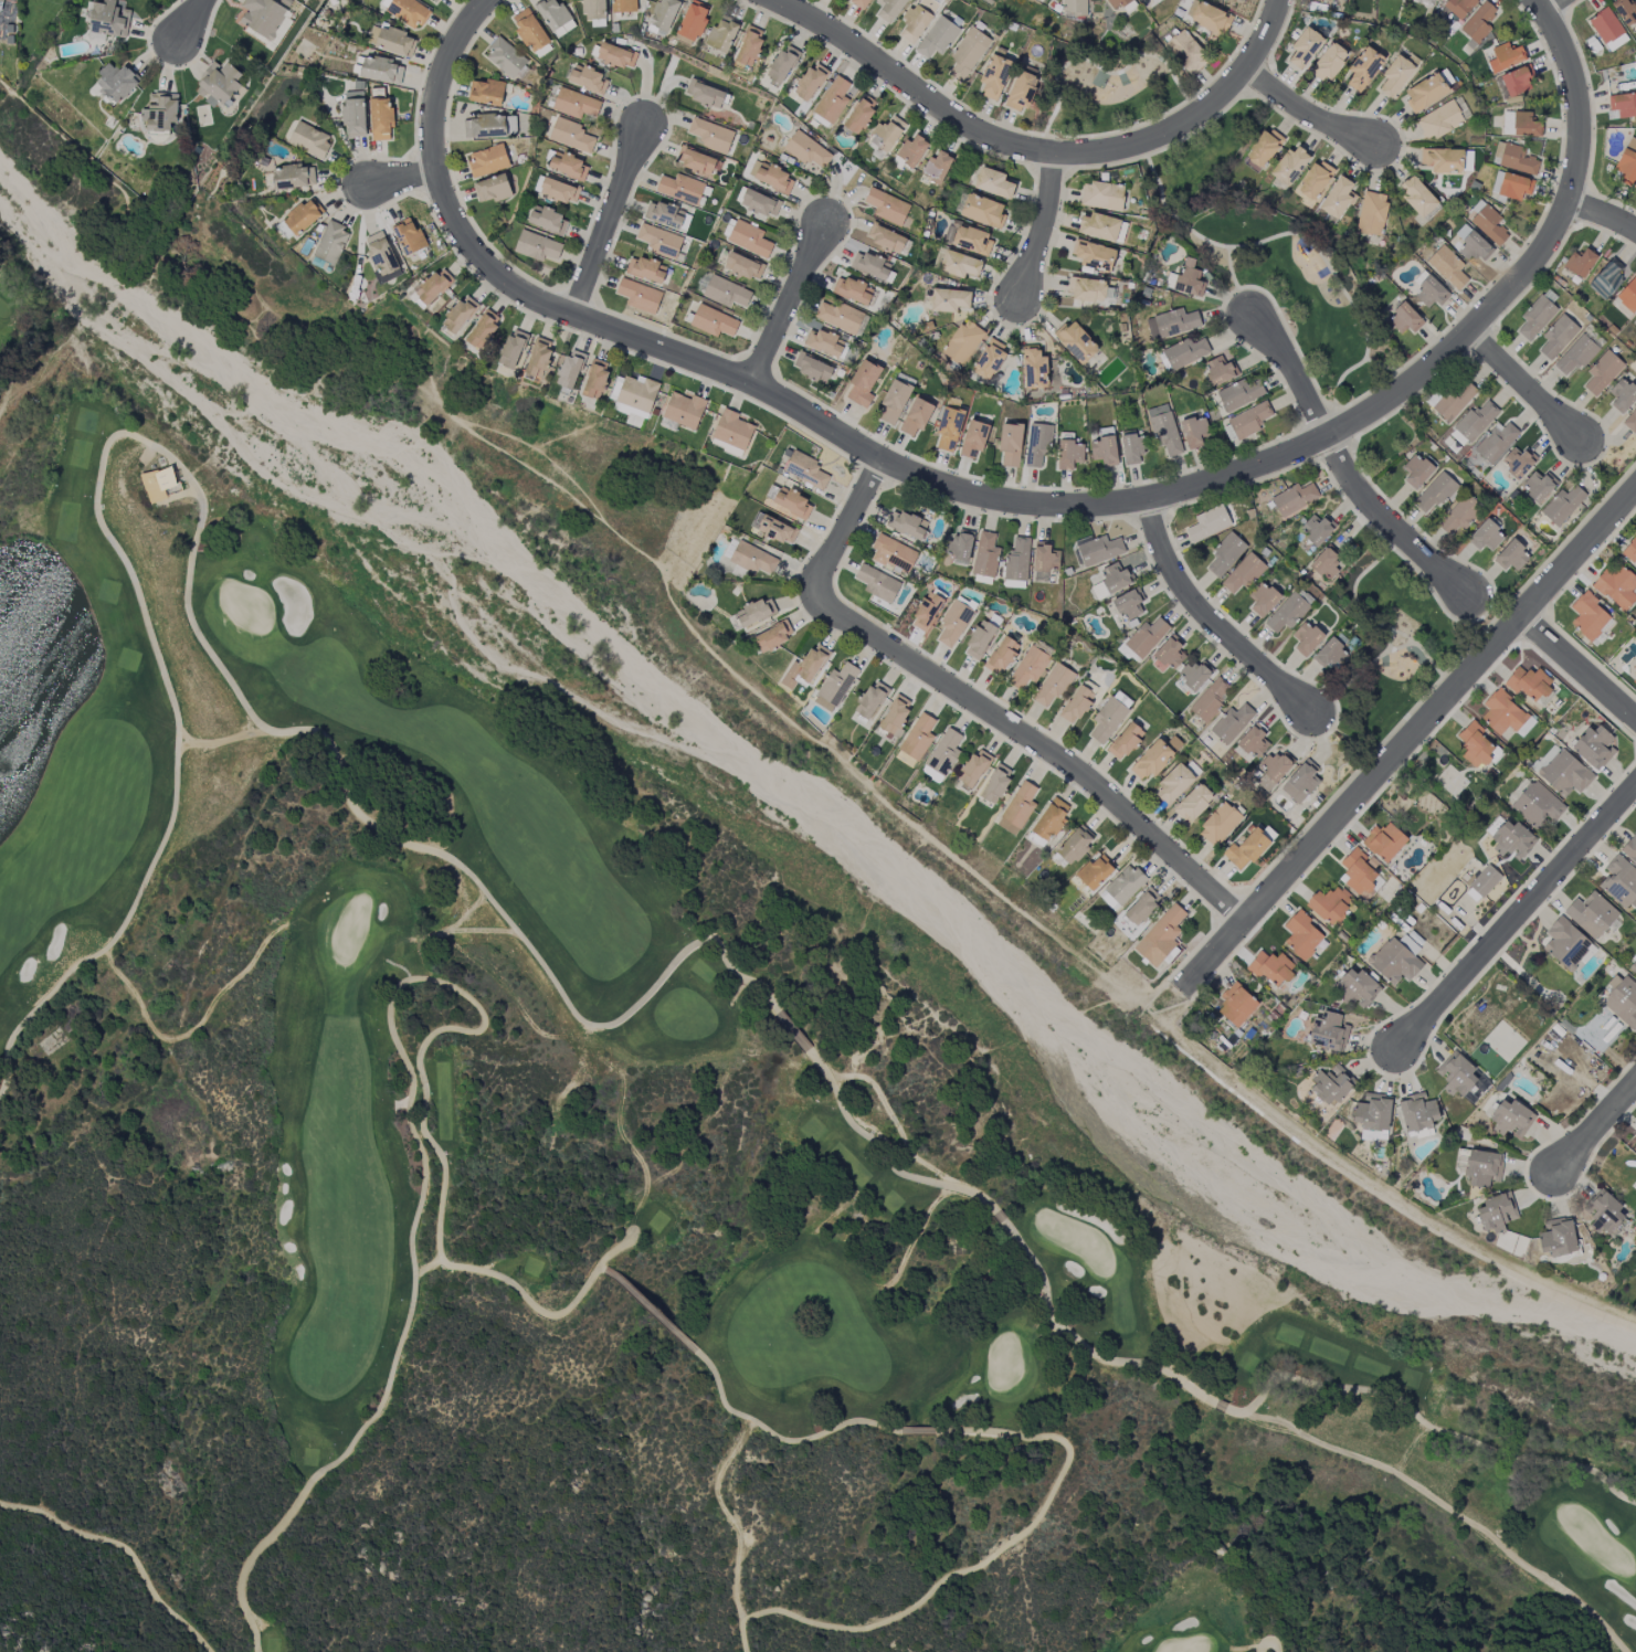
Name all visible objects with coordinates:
building: (1140, 0)
building: (1236, 0)
building: (432, 1)
road: (1519, 1)
road: (1577, 2)
building: (2, 3)
building: (859, 3)
building: (1118, 3)
road: (1563, 3)
road: (1539, 4)
road: (1549, 4)
building: (623, 6)
road: (1568, 6)
building: (1459, 7)
building: (1074, 8)
building: (594, 9)
building: (889, 9)
building: (407, 10)
building: (1625, 11)
building: (262, 17)
building: (555, 17)
building: (1207, 17)
building: (917, 19)
road: (194, 20)
building: (108, 21)
building: (693, 21)
building: (1478, 22)
road: (1284, 29)
building: (1607, 29)
building: (529, 30)
road: (1552, 32)
building: (721, 35)
building: (937, 38)
building: (391, 40)
building: (1305, 47)
building: (748, 49)
building: (1186, 51)
building: (968, 53)
building: (615, 55)
building: (505, 57)
building: (1506, 57)
building: (1328, 62)
building: (782, 65)
road: (426, 67)
building: (1363, 68)
building: (380, 70)
road: (1104, 71)
road: (1269, 74)
building: (994, 76)
building: (1395, 76)
road: (1259, 78)
building: (588, 80)
building: (1518, 81)
building: (116, 82)
building: (810, 82)
road: (882, 83)
building: (218, 84)
park: (1109, 88)
road: (1257, 89)
building: (486, 92)
building: (1021, 92)
building: (1425, 92)
building: (705, 94)
road: (653, 99)
building: (832, 99)
road: (1591, 100)
building: (574, 104)
building: (1623, 105)
building: (160, 112)
road: (1305, 112)
building: (353, 114)
building: (859, 114)
building: (380, 118)
building: (1439, 120)
building: (1520, 125)
building: (490, 126)
building: (886, 134)
building: (570, 135)
building: (710, 135)
road: (1047, 136)
building: (309, 140)
road: (1162, 148)
road: (1039, 149)
building: (806, 150)
building: (911, 150)
road: (1042, 150)
road: (1072, 150)
building: (1263, 150)
road: (416, 151)
road: (448, 156)
road: (1398, 157)
building: (1517, 159)
building: (487, 160)
building: (1447, 160)
building: (695, 161)
building: (1627, 162)
road: (1077, 165)
building: (568, 166)
building: (937, 167)
building: (1288, 167)
road: (1053, 170)
road: (1042, 174)
road: (411, 176)
building: (770, 176)
building: (293, 177)
road: (403, 179)
building: (1316, 180)
road: (1571, 180)
building: (1496, 182)
building: (993, 183)
building: (1514, 187)
building: (492, 189)
building: (680, 189)
building: (559, 190)
road: (339, 191)
building: (1101, 195)
building: (1416, 195)
road: (1592, 195)
road: (837, 197)
building: (1338, 198)
road: (430, 202)
building: (760, 203)
road: (1617, 204)
building: (887, 206)
road: (1584, 208)
building: (982, 211)
building: (1371, 213)
road: (1603, 214)
building: (667, 215)
building: (303, 216)
building: (547, 220)
road: (1556, 220)
road: (1584, 221)
road: (608, 223)
road: (1042, 224)
building: (1489, 225)
building: (1098, 226)
road: (1290, 233)
road: (1612, 235)
building: (408, 236)
road: (1530, 236)
building: (886, 237)
building: (749, 239)
building: (971, 240)
building: (659, 241)
building: (330, 243)
building: (1470, 244)
building: (537, 246)
building: (1094, 255)
building: (381, 256)
park: (1270, 256)
building: (1580, 263)
building: (959, 264)
building: (870, 265)
building: (743, 266)
building: (1448, 267)
building: (645, 268)
building: (1607, 278)
building: (1186, 279)
road: (1537, 279)
building: (433, 286)
road: (568, 286)
road: (1236, 286)
building: (1090, 289)
building: (852, 290)
building: (1429, 290)
building: (725, 293)
road: (1234, 293)
building: (1628, 295)
building: (638, 296)
road: (578, 298)
building: (949, 299)
park: (23, 301)
road: (788, 305)
road: (551, 307)
road: (604, 313)
building: (458, 315)
building: (838, 316)
building: (1535, 317)
building: (1404, 319)
building: (713, 321)
road: (594, 324)
building: (1171, 324)
road: (1491, 325)
road: (1013, 327)
building: (483, 329)
road: (667, 335)
building: (1558, 337)
building: (824, 342)
building: (962, 342)
building: (1076, 342)
road: (1481, 345)
building: (513, 349)
road: (622, 351)
building: (1185, 352)
building: (1575, 356)
road: (751, 357)
road: (1458, 357)
building: (538, 359)
building: (990, 359)
road: (759, 368)
building: (812, 368)
building: (570, 369)
building: (1034, 369)
road: (1387, 370)
building: (1602, 372)
building: (595, 379)
road: (781, 383)
building: (863, 383)
road: (1524, 384)
building: (1239, 394)
building: (1622, 395)
building: (633, 396)
road: (1411, 399)
building: (1455, 399)
building: (894, 402)
building: (684, 410)
road: (1340, 413)
building: (916, 416)
road: (1315, 416)
road: (1303, 417)
building: (1250, 420)
building: (1477, 420)
building: (1630, 421)
road: (1343, 427)
building: (949, 428)
building: (732, 430)
building: (1164, 430)
building: (1194, 431)
road: (1354, 437)
building: (973, 438)
park: (1391, 441)
building: (1496, 442)
building: (1011, 444)
building: (1037, 444)
road: (146, 445)
road: (1308, 445)
road: (863, 448)
building: (1132, 449)
building: (1104, 451)
building: (1069, 454)
road: (1336, 457)
building: (783, 459)
road: (1598, 459)
building: (1518, 462)
road: (1323, 463)
road: (899, 467)
road: (1345, 468)
building: (805, 469)
building: (1416, 470)
road: (859, 475)
road: (870, 480)
building: (159, 484)
road: (898, 485)
building: (1538, 486)
road: (1028, 488)
road: (1243, 488)
building: (1434, 494)
building: (1294, 499)
road: (1009, 500)
building: (787, 502)
building: (1563, 505)
road: (1180, 506)
building: (1460, 515)
road: (1007, 517)
road: (1152, 518)
road: (1140, 522)
building: (1208, 523)
building: (906, 525)
building: (773, 528)
building: (1317, 529)
building: (1486, 537)
building: (960, 547)
building: (1099, 550)
building: (1630, 550)
building: (893, 553)
building: (985, 555)
building: (1224, 555)
building: (1511, 557)
building: (1045, 558)
building: (753, 559)
building: (1017, 560)
building: (1326, 563)
building: (1244, 573)
building: (1111, 581)
building: (877, 583)
building: (1617, 586)
road: (1353, 590)
building: (1263, 599)
building: (1128, 604)
building: (756, 612)
building: (926, 612)
building: (1287, 613)
building: (1588, 616)
road: (1480, 617)
road: (1207, 619)
building: (953, 623)
road: (1468, 624)
building: (772, 637)
building: (1146, 637)
building: (1306, 638)
building: (979, 639)
road: (1533, 646)
park: (1394, 648)
building: (1170, 653)
building: (1001, 655)
building: (1331, 655)
road: (1383, 655)
park: (129, 664)
building: (1028, 667)
building: (804, 668)
road: (1577, 668)
building: (1195, 675)
road: (1444, 676)
building: (1634, 679)
building: (1528, 682)
building: (1053, 685)
building: (835, 687)
building: (1211, 699)
building: (870, 700)
road: (993, 701)
road: (974, 705)
building: (1076, 705)
road: (952, 706)
building: (1502, 713)
building: (895, 716)
building: (1107, 719)
building: (1232, 723)
building: (918, 738)
road: (1321, 738)
park: (77, 739)
road: (1407, 739)
building: (1125, 741)
building: (1254, 742)
building: (1474, 743)
building: (1593, 746)
building: (944, 752)
building: (1155, 758)
building: (973, 770)
building: (1273, 770)
building: (1565, 774)
building: (1300, 782)
building: (995, 784)
building: (1173, 784)
park: (486, 799)
building: (1194, 803)
building: (1538, 805)
building: (1017, 808)
building: (1051, 819)
building: (1220, 824)
building: (1512, 840)
building: (1384, 841)
building: (1075, 845)
building: (1630, 849)
building: (1246, 850)
road: (1317, 861)
building: (1095, 872)
building: (1358, 872)
building: (1485, 881)
building: (1621, 881)
building: (1121, 887)
road: (1255, 889)
road: (1263, 902)
building: (1329, 904)
road: (1227, 906)
building: (1141, 907)
road: (1217, 912)
road: (1518, 912)
building: (1592, 914)
building: (1160, 936)
building: (1301, 936)
building: (1566, 944)
building: (1394, 962)
building: (1270, 967)
building: (1634, 968)
building: (1355, 987)
building: (1622, 999)
building: (1236, 1005)
road: (389, 1027)
building: (1600, 1030)
building: (1329, 1031)
building: (1457, 1074)
building: (1331, 1084)
building: (1417, 1113)
building: (1373, 1116)
building: (1510, 1119)
road: (1597, 1124)
building: (1482, 1167)
road: (1369, 1180)
park: (362, 1183)
building: (1496, 1212)
building: (1605, 1212)
building: (1558, 1238)
road: (1044, 1289)
park: (967, 1304)
park: (760, 1319)
park: (1248, 1364)
road: (1015, 1437)
park: (308, 1458)
road: (1450, 1511)
park: (1576, 1538)
road: (127, 1548)
park: (1193, 1618)
road: (1268, 1642)

